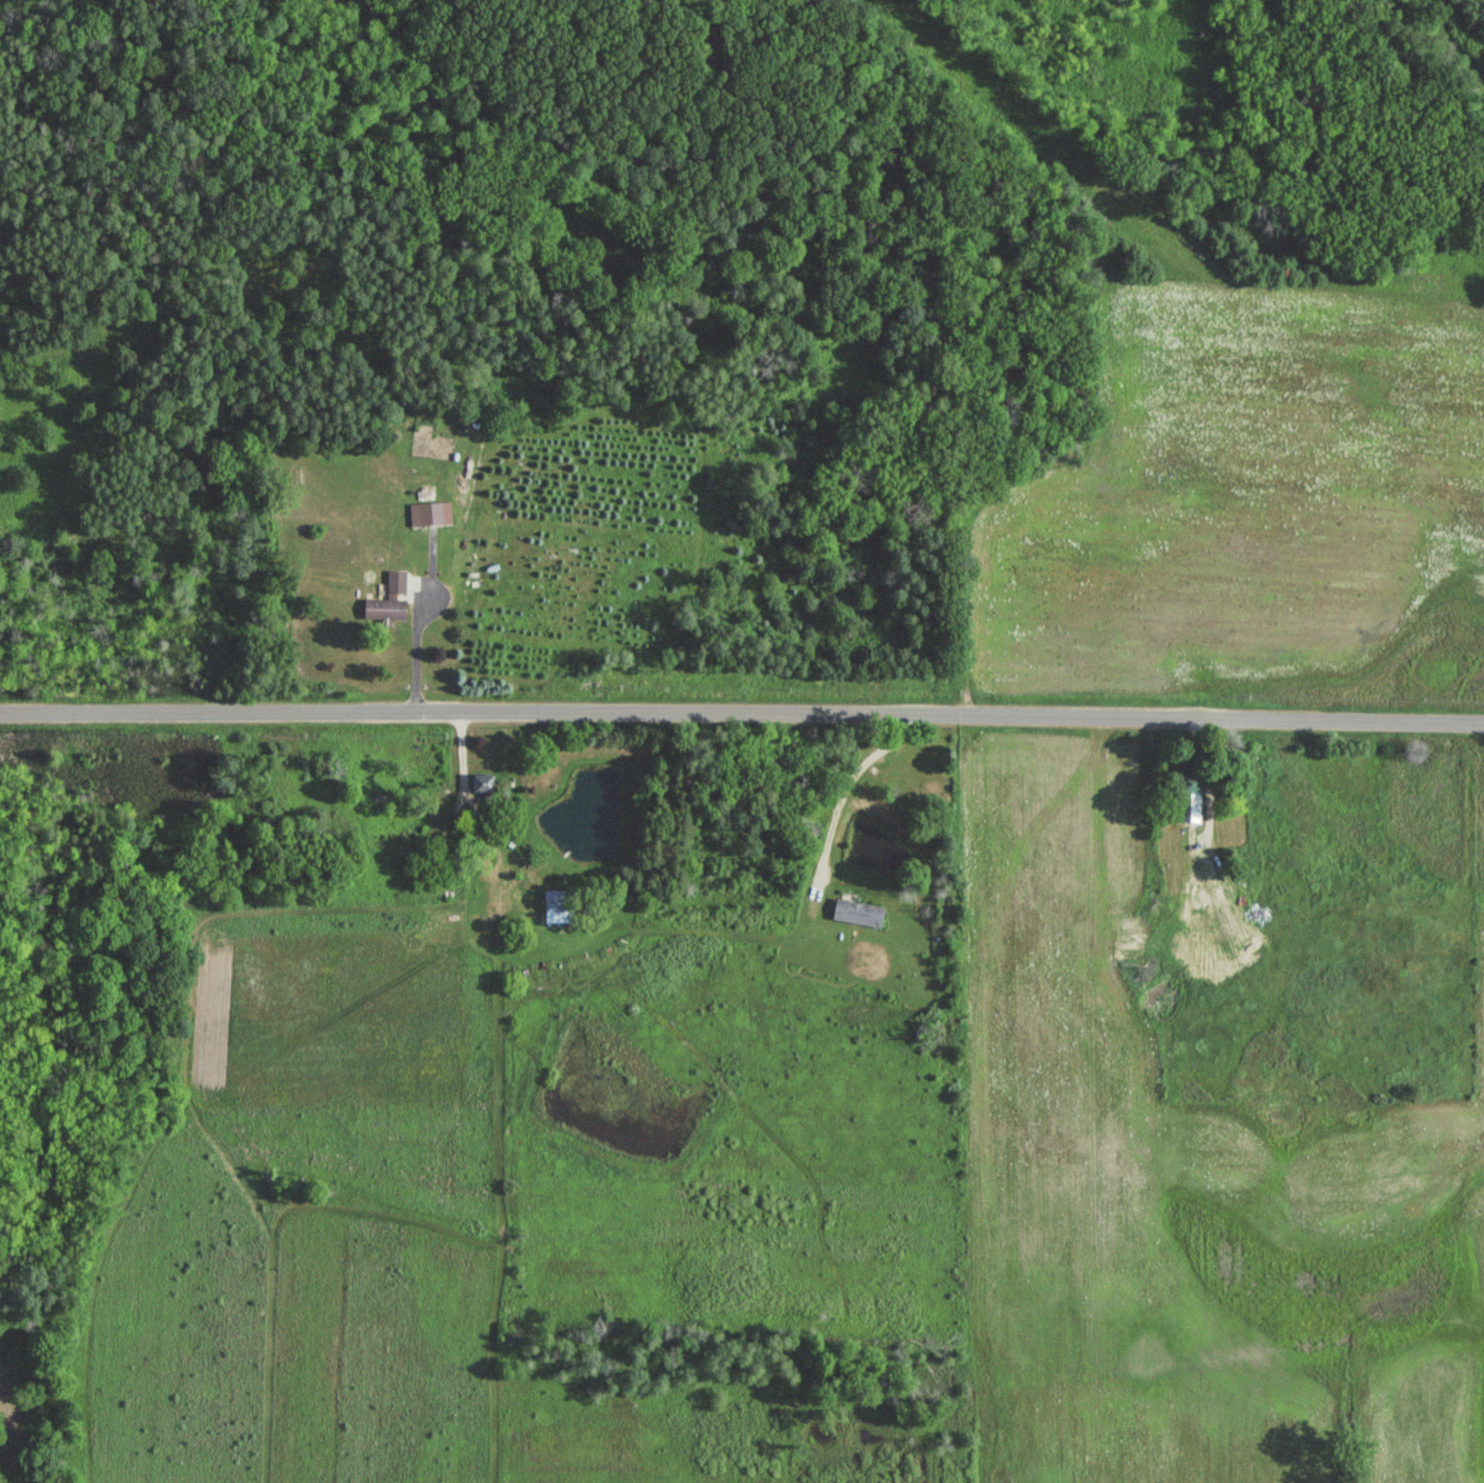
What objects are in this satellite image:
building: (425, 516)
building: (387, 602)
road: (742, 709)
road: (846, 780)
building: (479, 786)
building: (1190, 800)
building: (554, 901)
building: (856, 914)
building: (1202, 923)

